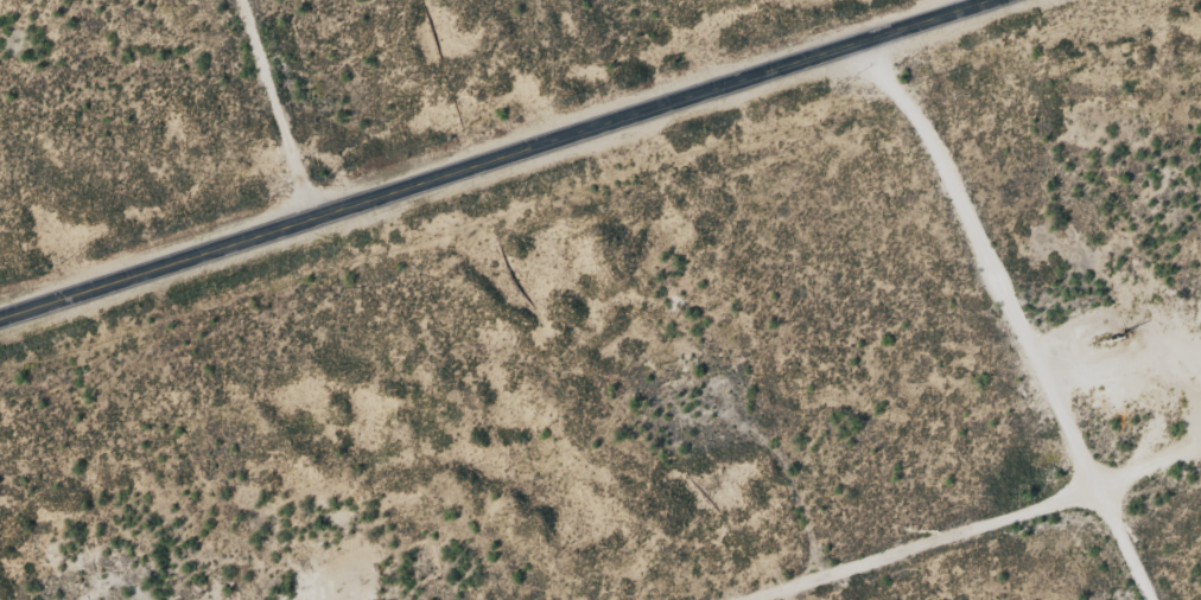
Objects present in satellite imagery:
road: (267, 83)
road: (483, 155)
road: (1013, 307)
road: (957, 560)

